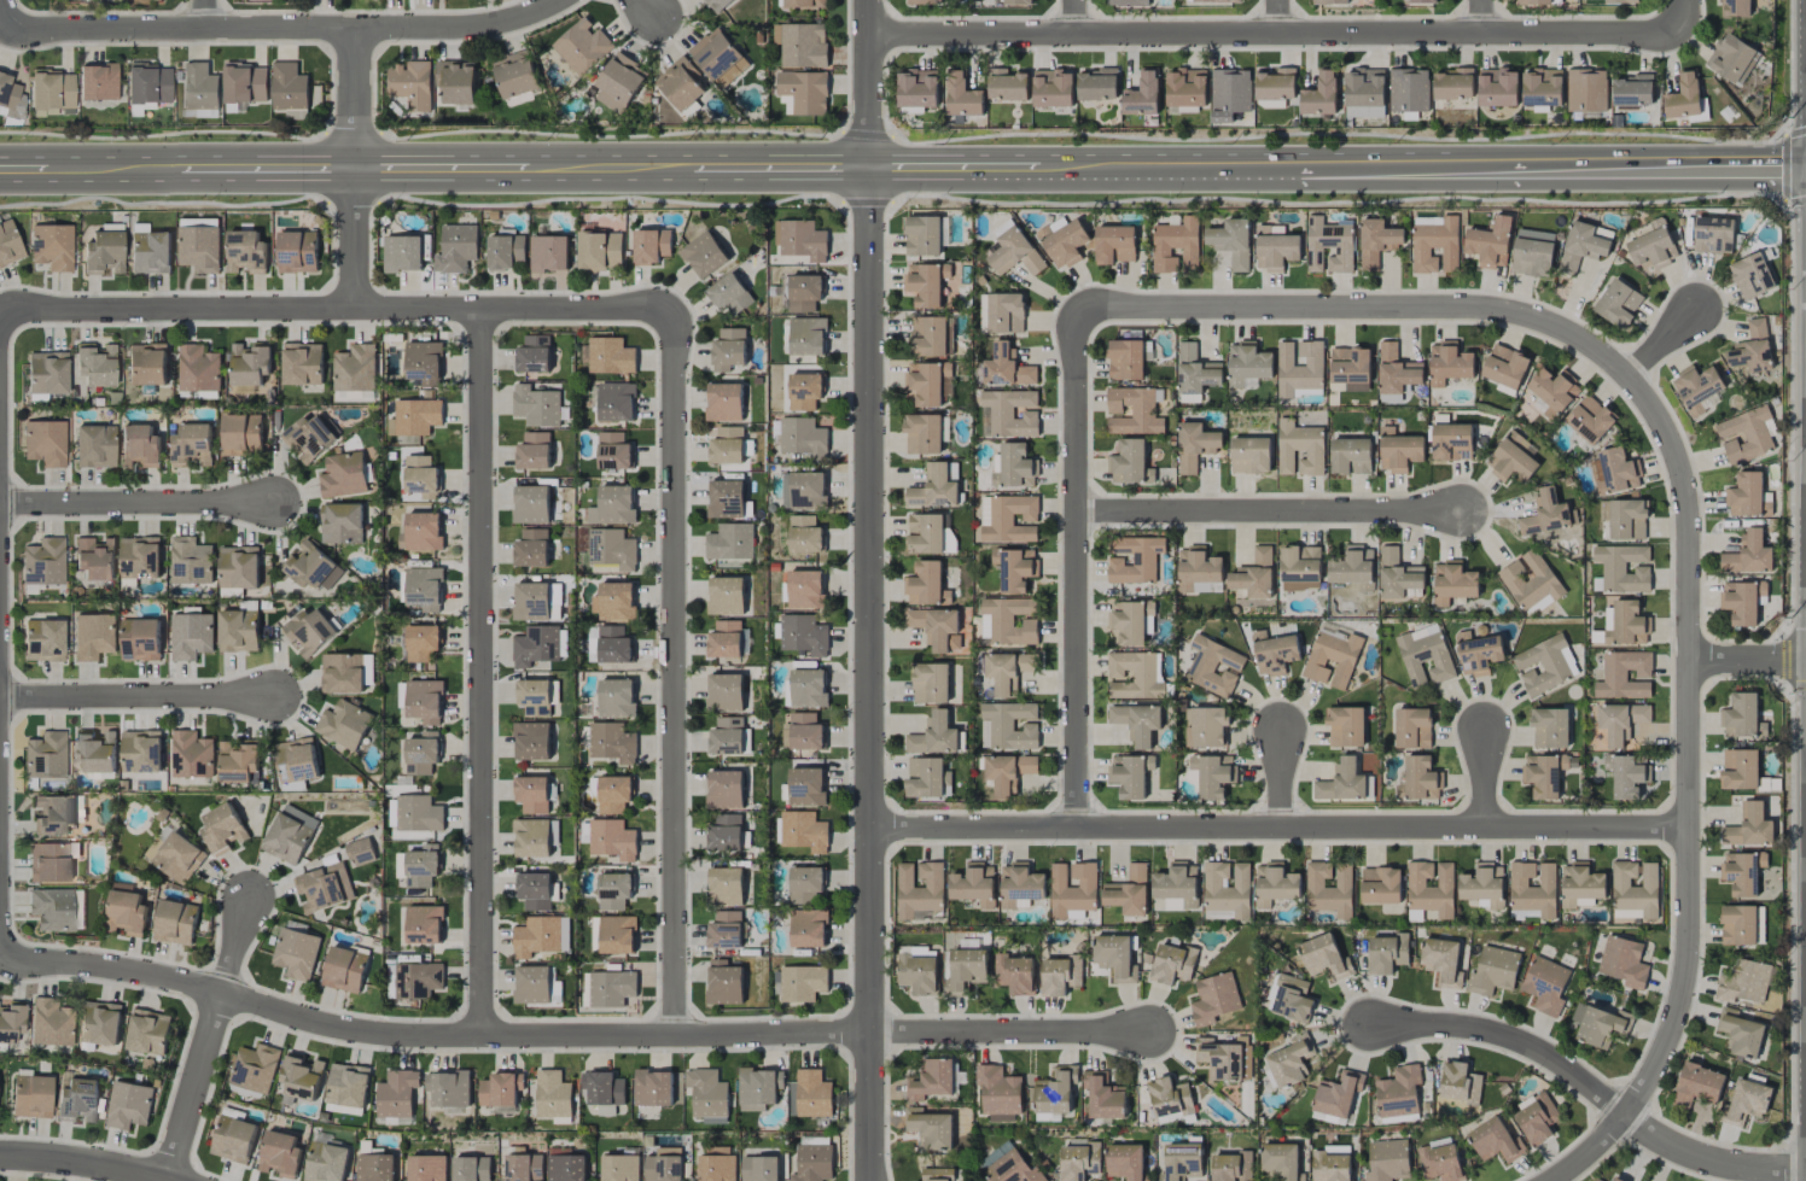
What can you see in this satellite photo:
building: (156, 0)
building: (924, 1)
building: (1015, 1)
building: (1214, 1)
building: (1329, 1)
building: (1425, 1)
building: (1621, 1)
building: (1128, 2)
building: (1533, 2)
building: (803, 4)
building: (717, 5)
building: (1735, 7)
road: (647, 8)
road: (1, 13)
road: (206, 13)
road: (1682, 16)
road: (1074, 17)
road: (1278, 17)
road: (1482, 17)
road: (285, 28)
road: (1276, 34)
building: (803, 45)
building: (582, 46)
building: (718, 57)
building: (1732, 58)
building: (515, 75)
building: (98, 82)
building: (456, 82)
building: (148, 83)
building: (245, 83)
building: (619, 83)
building: (681, 83)
building: (1453, 83)
building: (410, 84)
building: (1007, 84)
building: (1097, 84)
building: (200, 87)
road: (869, 87)
building: (1276, 87)
building: (1498, 87)
building: (1543, 87)
building: (917, 88)
building: (1053, 88)
building: (1187, 88)
building: (290, 90)
building: (1409, 90)
building: (1586, 90)
building: (1633, 90)
building: (51, 92)
building: (804, 92)
building: (1364, 93)
building: (1230, 94)
building: (1142, 95)
building: (1321, 95)
building: (10, 97)
building: (963, 97)
building: (1685, 97)
road: (355, 169)
road: (1530, 173)
road: (24, 174)
road: (146, 174)
road: (1109, 174)
road: (298, 175)
road: (404, 175)
road: (611, 175)
road: (818, 175)
road: (917, 175)
building: (1427, 221)
building: (924, 235)
building: (1713, 235)
building: (800, 239)
building: (1062, 241)
building: (1376, 241)
building: (1231, 242)
building: (1490, 242)
building: (8, 244)
building: (1114, 244)
building: (1176, 245)
building: (1584, 245)
building: (52, 246)
building: (651, 246)
building: (1328, 246)
building: (1435, 246)
building: (1653, 246)
building: (199, 247)
building: (456, 249)
building: (1275, 249)
building: (506, 251)
building: (599, 251)
building: (104, 252)
building: (150, 252)
building: (245, 252)
building: (297, 252)
building: (1015, 252)
building: (1532, 252)
building: (402, 253)
building: (548, 253)
building: (704, 255)
building: (1752, 275)
building: (925, 283)
building: (804, 292)
building: (729, 294)
building: (1618, 303)
road: (337, 309)
building: (1006, 312)
building: (932, 335)
building: (808, 337)
road: (1660, 343)
building: (728, 349)
building: (1752, 349)
building: (534, 355)
building: (610, 356)
building: (1125, 359)
building: (424, 362)
building: (1247, 363)
building: (1449, 363)
building: (95, 364)
building: (147, 364)
building: (250, 364)
building: (302, 364)
building: (1007, 367)
building: (1299, 367)
building: (1505, 367)
building: (1351, 368)
building: (198, 369)
building: (355, 369)
building: (1397, 370)
building: (47, 372)
building: (1195, 374)
building: (928, 382)
building: (1699, 390)
building: (804, 392)
building: (1552, 392)
building: (1390, 398)
building: (616, 402)
building: (724, 402)
building: (536, 405)
building: (1132, 411)
building: (1012, 413)
building: (416, 416)
building: (1590, 419)
building: (241, 434)
building: (922, 434)
building: (1746, 434)
building: (309, 438)
building: (803, 438)
building: (1451, 442)
building: (45, 443)
building: (94, 445)
building: (139, 445)
building: (192, 445)
building: (727, 445)
building: (1194, 445)
building: (1299, 449)
building: (534, 451)
building: (613, 451)
building: (1400, 452)
building: (1249, 455)
building: (1351, 456)
building: (1513, 458)
building: (1128, 462)
road: (1677, 463)
building: (1013, 467)
building: (1615, 472)
building: (343, 475)
building: (421, 477)
building: (933, 487)
building: (804, 490)
building: (726, 499)
building: (531, 504)
road: (136, 505)
building: (613, 505)
building: (985, 510)
road: (1272, 511)
building: (1545, 514)
building: (1010, 519)
building: (1627, 520)
building: (342, 524)
building: (421, 532)
building: (925, 533)
building: (805, 534)
building: (730, 542)
building: (531, 548)
building: (612, 549)
building: (1748, 554)
building: (95, 557)
building: (140, 557)
building: (1135, 560)
building: (191, 561)
building: (42, 563)
building: (311, 566)
building: (239, 567)
road: (1079, 567)
building: (1015, 568)
building: (1300, 568)
building: (1623, 568)
building: (1199, 569)
building: (1353, 571)
building: (1254, 575)
building: (1399, 575)
building: (1530, 580)
building: (1453, 583)
building: (925, 584)
building: (424, 589)
building: (803, 589)
building: (726, 596)
building: (531, 601)
building: (1742, 601)
building: (614, 602)
building: (1010, 620)
building: (1625, 622)
building: (1130, 624)
building: (934, 626)
building: (238, 631)
building: (309, 631)
building: (93, 636)
building: (191, 636)
building: (804, 636)
building: (43, 639)
building: (140, 639)
building: (724, 639)
building: (423, 643)
building: (608, 644)
building: (540, 645)
building: (1274, 653)
building: (1478, 654)
building: (1425, 656)
building: (1332, 659)
road: (1747, 661)
building: (1543, 665)
building: (1213, 667)
road: (675, 671)
building: (1008, 671)
road: (480, 672)
building: (342, 673)
building: (1134, 676)
building: (1624, 676)
road: (868, 677)
building: (931, 683)
building: (808, 688)
building: (724, 692)
road: (135, 696)
building: (537, 696)
building: (616, 697)
building: (424, 701)
building: (1741, 715)
building: (1621, 721)
building: (1137, 723)
building: (344, 724)
building: (1008, 725)
building: (1206, 726)
building: (1345, 726)
building: (1414, 727)
building: (1550, 727)
building: (805, 732)
building: (934, 736)
building: (728, 737)
building: (532, 741)
building: (612, 742)
building: (95, 752)
building: (141, 752)
building: (421, 753)
building: (45, 754)
building: (192, 755)
building: (296, 760)
building: (238, 761)
building: (1740, 768)
building: (1008, 773)
building: (1130, 774)
building: (1213, 774)
building: (1544, 774)
building: (1627, 774)
building: (927, 778)
road: (1485, 778)
road: (1281, 779)
building: (1420, 779)
building: (1341, 782)
building: (806, 787)
building: (724, 789)
building: (531, 794)
building: (614, 794)
building: (418, 813)
building: (53, 814)
road: (1277, 826)
building: (1749, 826)
building: (222, 829)
building: (803, 831)
building: (724, 832)
building: (289, 835)
building: (535, 837)
building: (612, 840)
building: (359, 852)
building: (177, 858)
building: (49, 861)
building: (418, 866)
building: (1742, 872)
building: (805, 884)
building: (974, 884)
building: (1275, 884)
building: (1481, 884)
building: (726, 885)
building: (1020, 885)
building: (1381, 885)
building: (1580, 885)
building: (324, 887)
building: (1228, 888)
building: (1329, 888)
building: (1432, 888)
building: (1533, 888)
building: (1072, 889)
building: (1635, 889)
building: (534, 890)
building: (920, 890)
building: (613, 891)
building: (1129, 891)
building: (53, 908)
building: (126, 913)
building: (175, 923)
building: (424, 924)
building: (1742, 925)
building: (808, 928)
building: (724, 930)
building: (612, 935)
building: (541, 936)
building: (296, 953)
building: (1387, 953)
building: (1114, 957)
building: (1323, 957)
building: (1441, 961)
building: (1624, 961)
building: (1172, 963)
building: (345, 969)
building: (966, 970)
building: (1495, 970)
building: (919, 971)
building: (1014, 974)
building: (1060, 975)
building: (418, 980)
building: (1747, 981)
building: (723, 983)
building: (803, 983)
building: (1545, 984)
building: (611, 988)
building: (1214, 999)
building: (1292, 999)
building: (11, 1022)
building: (51, 1022)
building: (100, 1023)
building: (1600, 1024)
building: (147, 1031)
building: (1741, 1033)
road: (571, 1034)
road: (209, 1040)
building: (1220, 1058)
building: (1291, 1062)
building: (255, 1068)
building: (301, 1077)
building: (931, 1080)
building: (1460, 1082)
building: (348, 1084)
building: (1697, 1084)
building: (604, 1087)
building: (449, 1088)
building: (653, 1088)
building: (758, 1088)
building: (501, 1089)
road: (1591, 1089)
building: (1055, 1091)
building: (1399, 1092)
building: (397, 1093)
building: (707, 1093)
building: (998, 1093)
building: (1339, 1093)
building: (553, 1094)
building: (812, 1094)
building: (31, 1095)
building: (1103, 1095)
building: (1170, 1099)
building: (77, 1100)
building: (1748, 1100)
building: (128, 1105)
building: (344, 1110)
building: (1536, 1117)
building: (931, 1129)
building: (233, 1139)
building: (1496, 1141)
building: (368, 1148)
road: (1590, 1151)
building: (279, 1153)
building: (994, 1154)
building: (1387, 1159)
road: (80, 1160)
building: (1281, 1160)
building: (1439, 1160)
building: (326, 1162)
building: (1078, 1162)
building: (1125, 1162)
building: (1182, 1162)
building: (717, 1163)
building: (812, 1163)
building: (1330, 1163)
building: (664, 1165)
building: (1231, 1167)
building: (375, 1168)
building: (427, 1168)
building: (471, 1168)
building: (524, 1168)
building: (566, 1168)
building: (619, 1168)
building: (759, 1168)
building: (1013, 1169)
building: (931, 1175)
building: (1597, 1180)
building: (1615, 1180)

